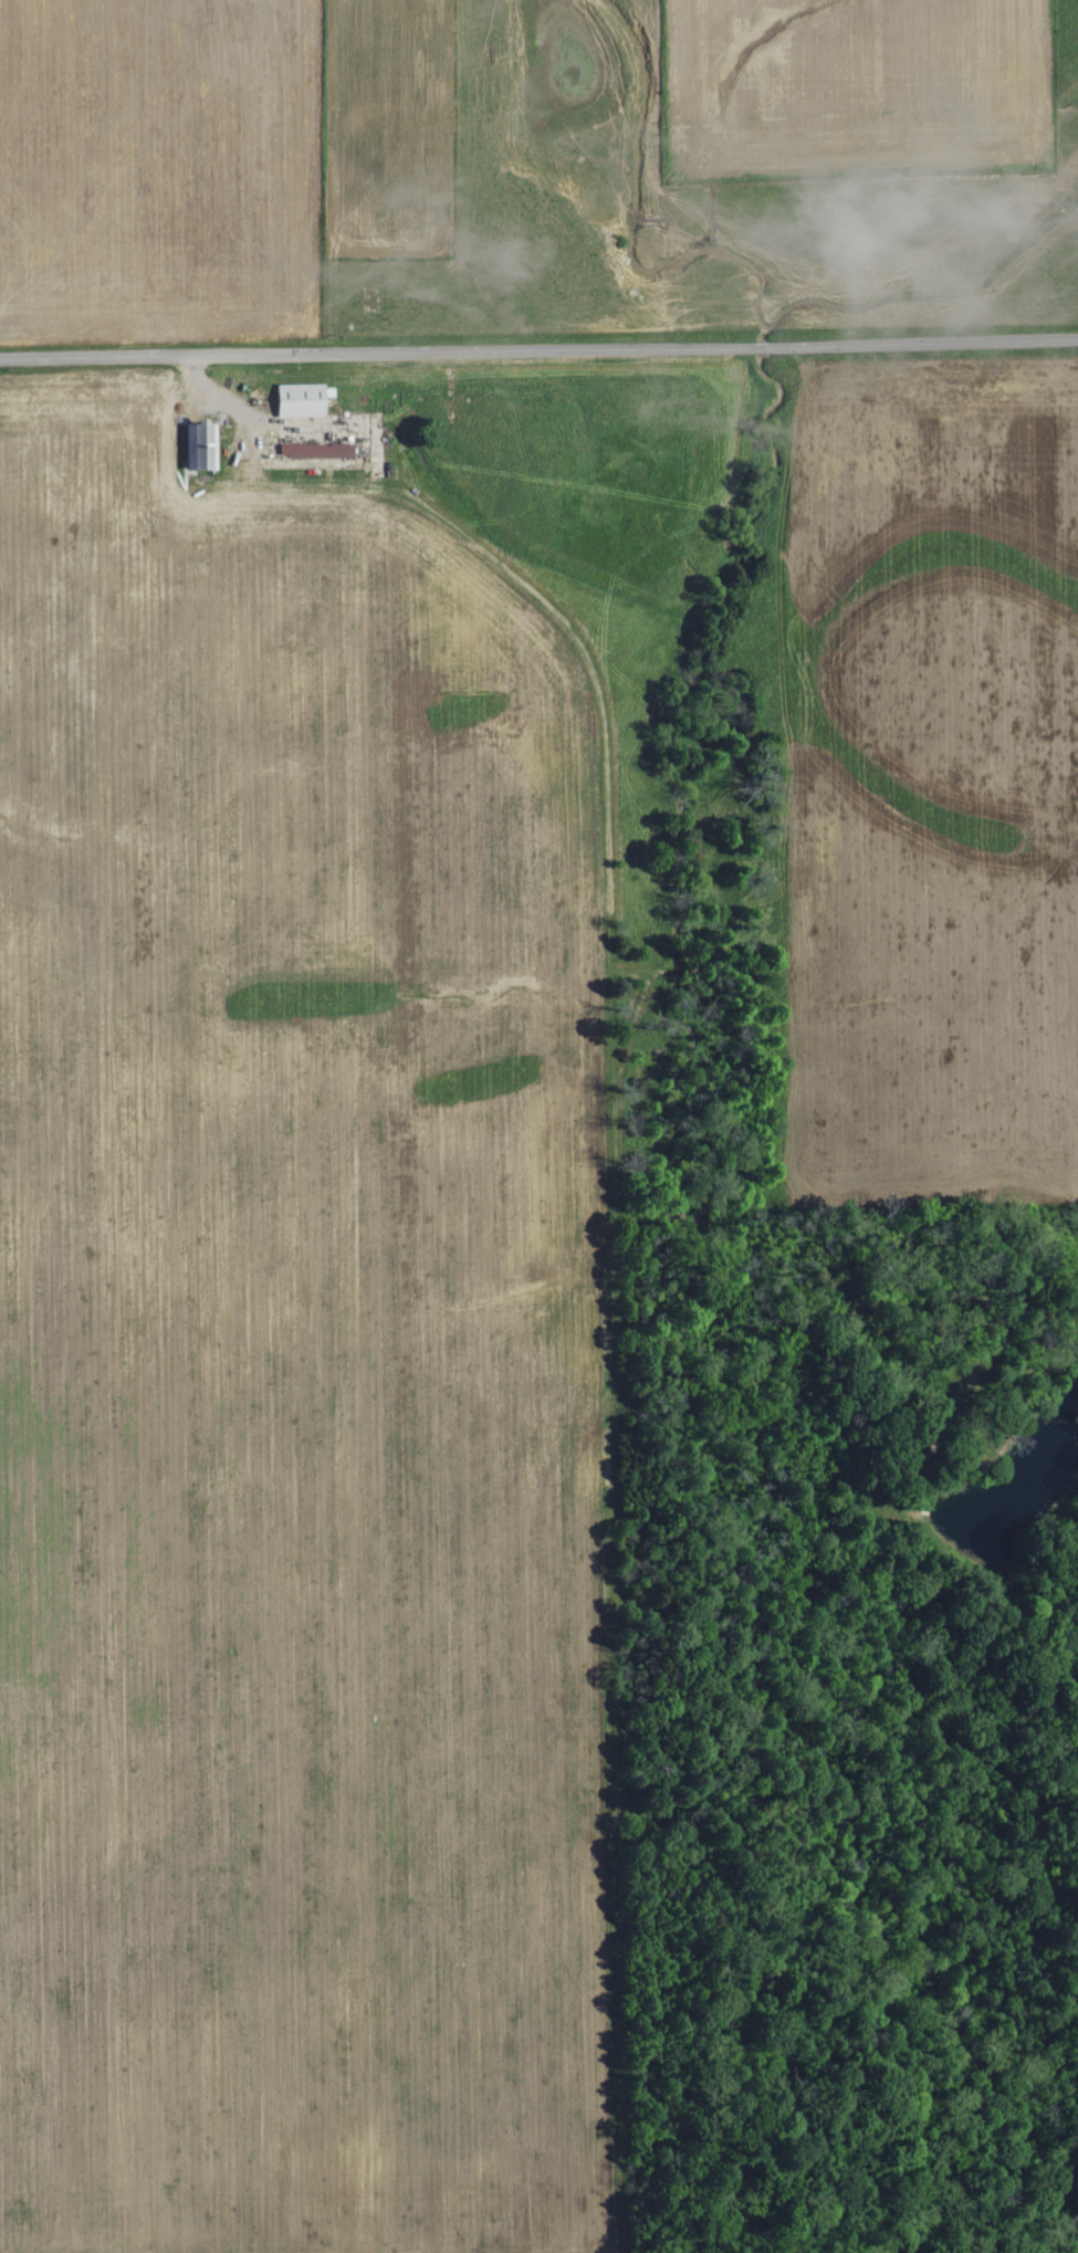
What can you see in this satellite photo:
road: (538, 346)
building: (305, 400)
building: (206, 446)
building: (320, 450)

